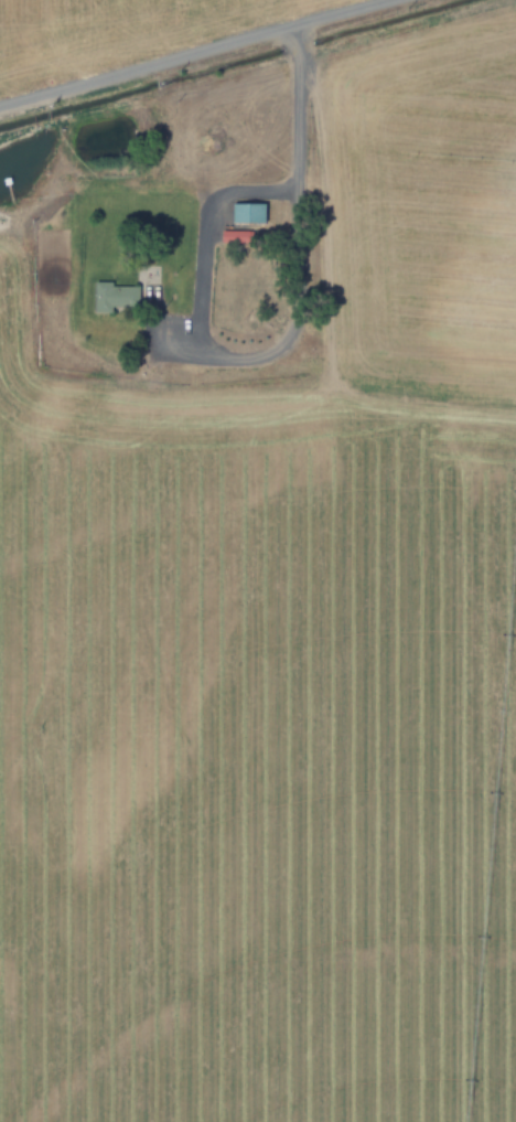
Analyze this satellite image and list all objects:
road: (192, 51)
building: (246, 213)
building: (232, 236)
road: (299, 252)
building: (111, 297)
crop: (258, 560)

